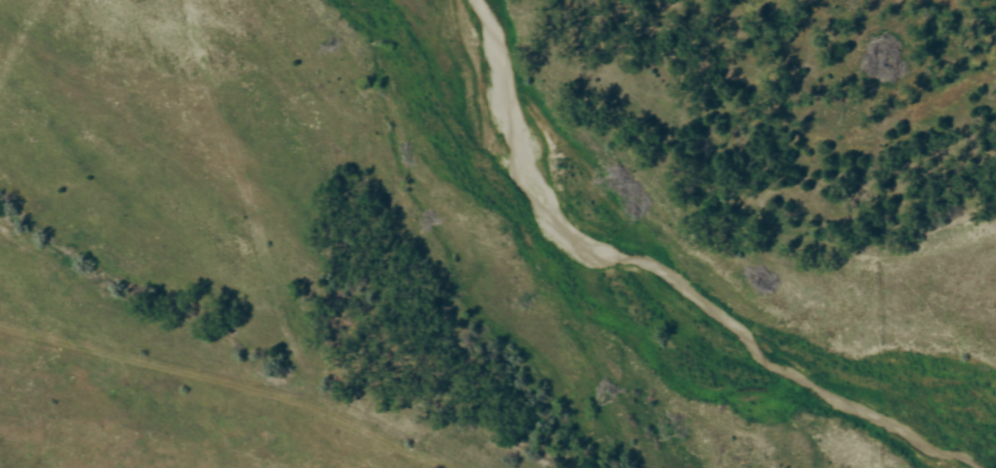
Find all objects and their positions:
river: (673, 278)

